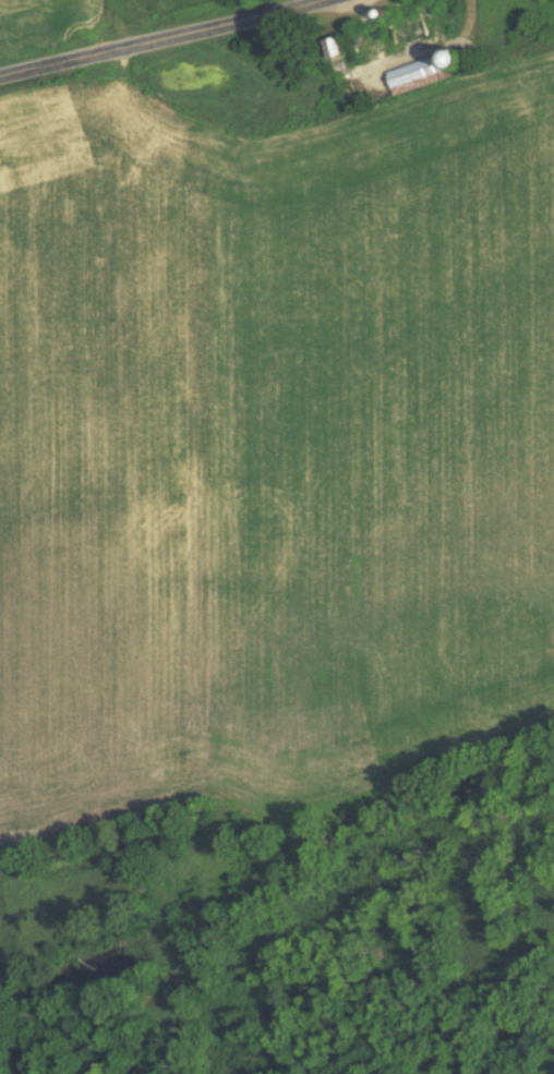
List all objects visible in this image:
road: (336, 1)
building: (396, 31)
road: (172, 44)
building: (336, 68)
building: (418, 73)

